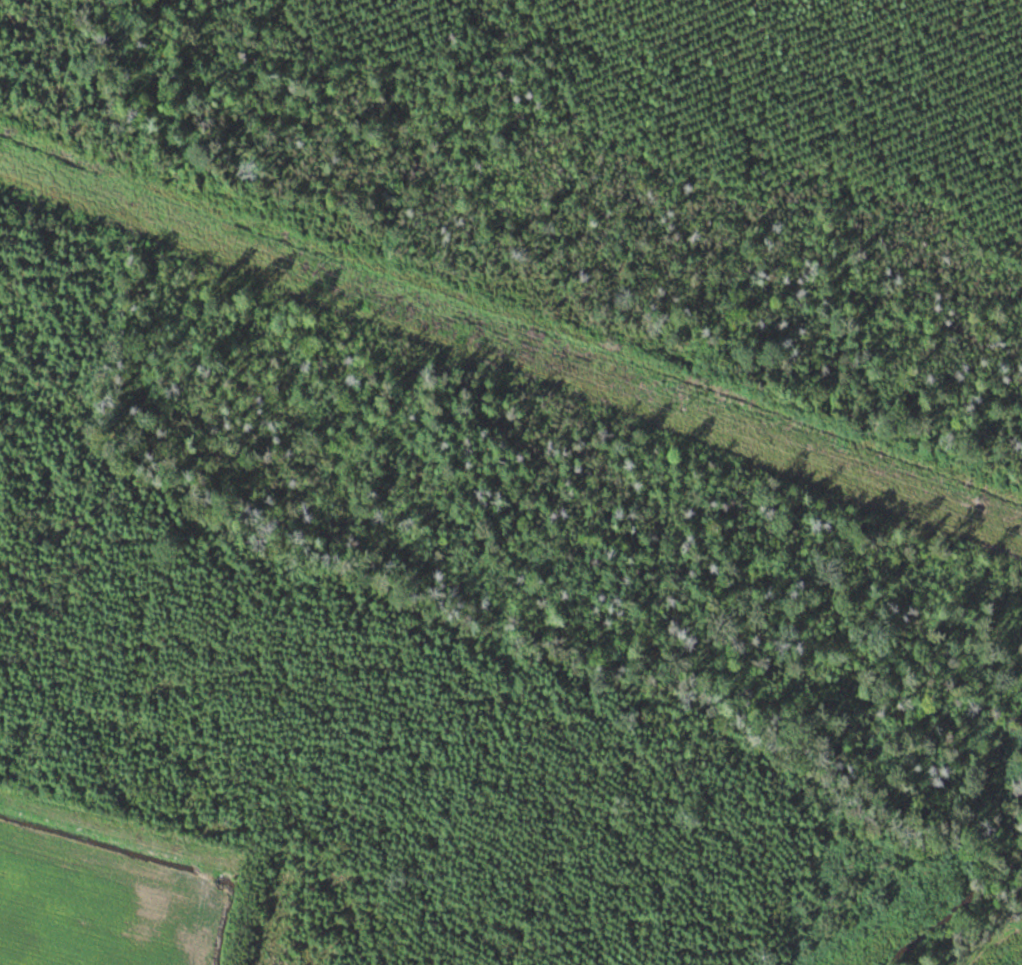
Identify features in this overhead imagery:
power tower: (316, 269)
power tower: (684, 402)

